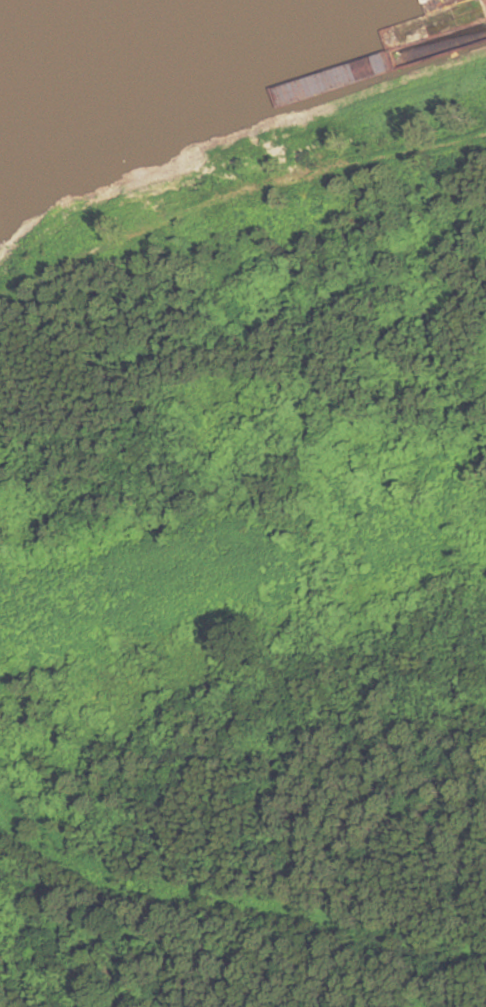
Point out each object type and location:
building: (367, 19)
road: (50, 257)

